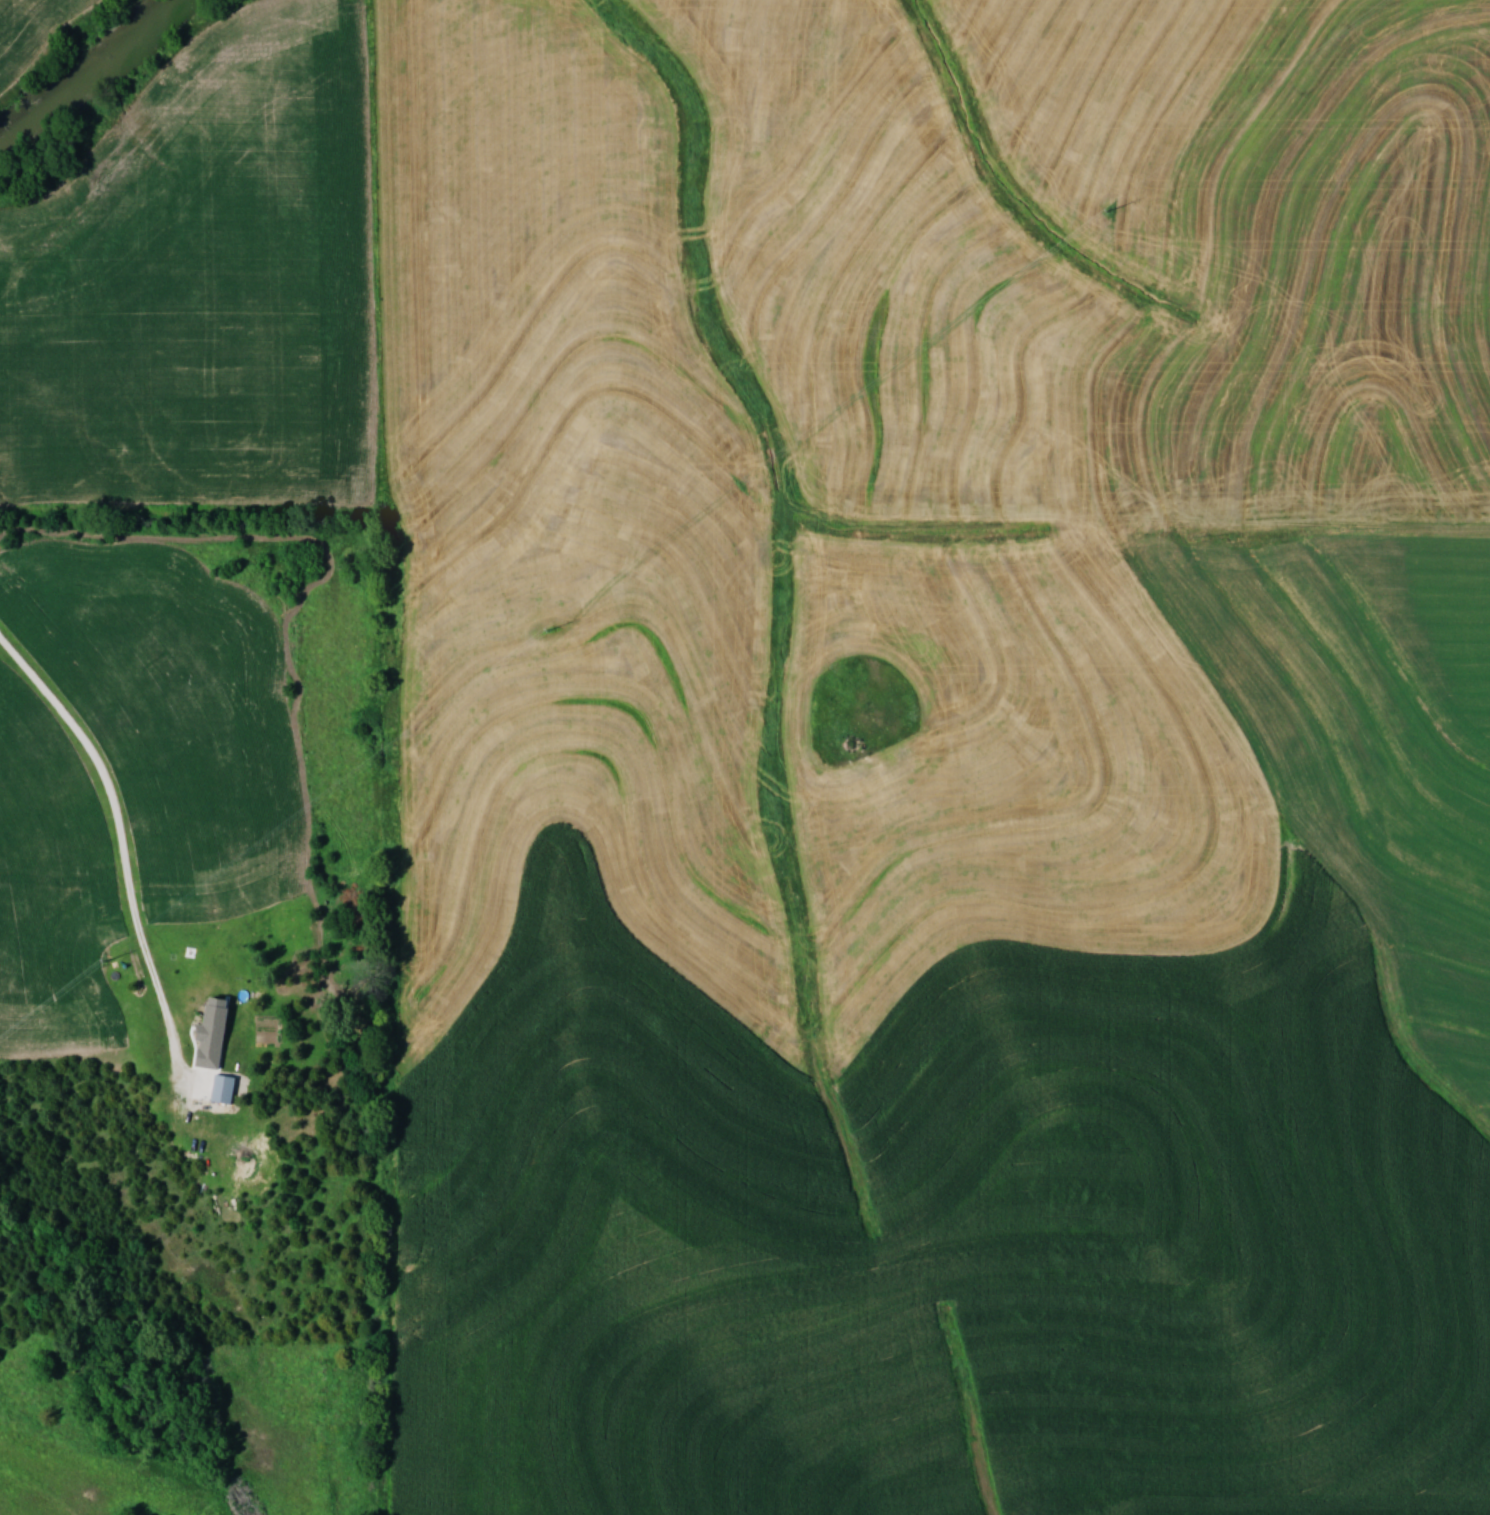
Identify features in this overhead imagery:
road: (122, 851)
building: (215, 1037)
building: (225, 1089)

